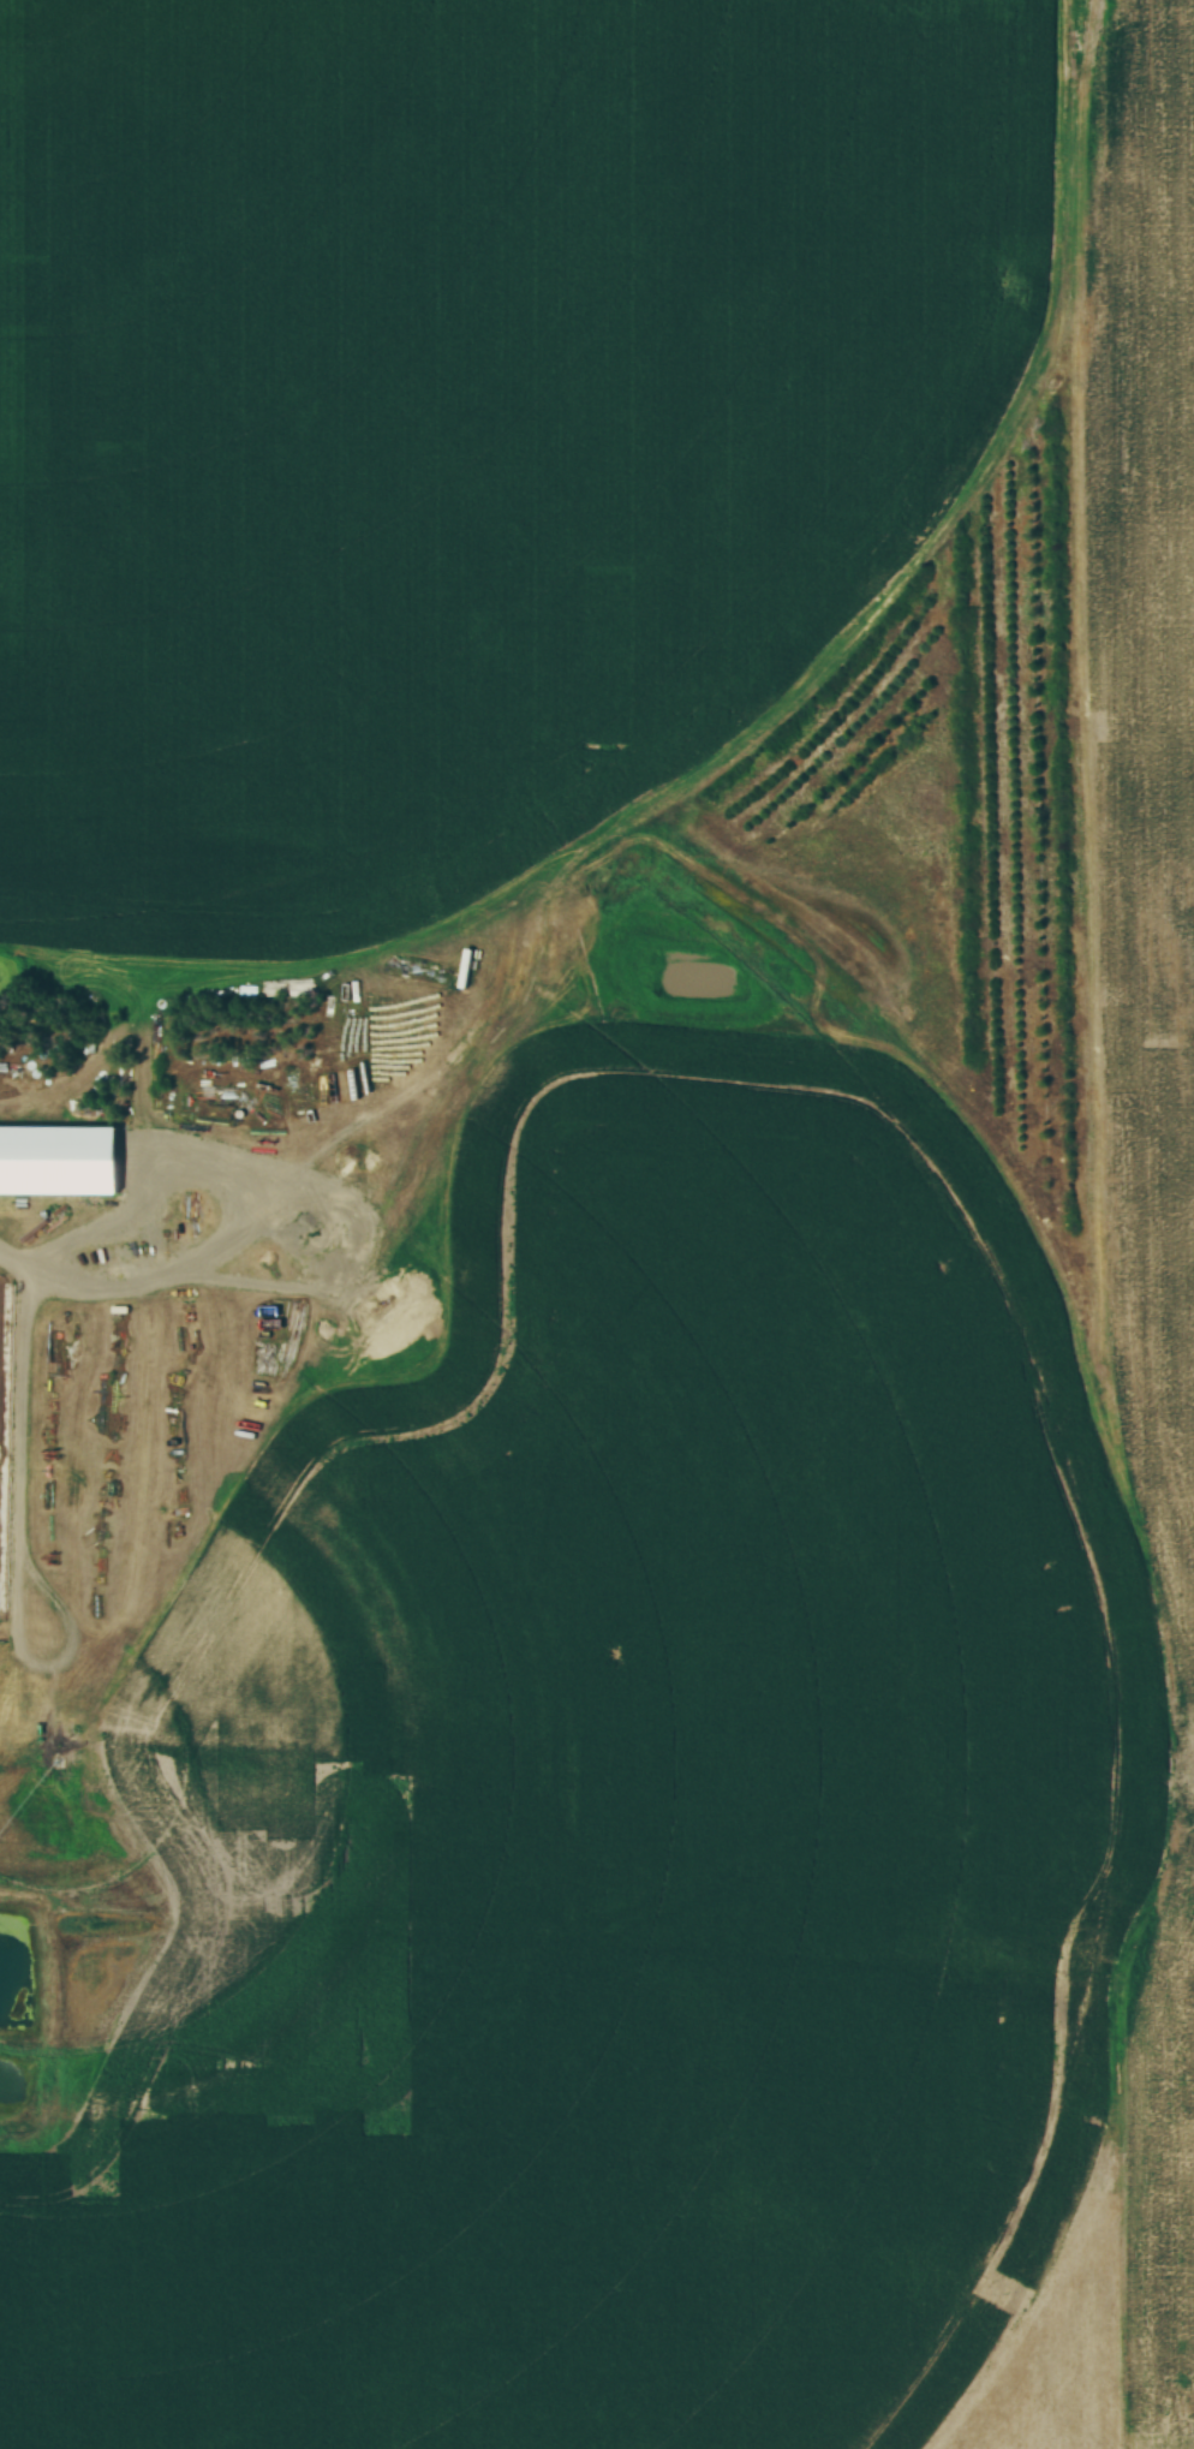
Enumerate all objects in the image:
road: (196, 1253)
road: (16, 1426)

